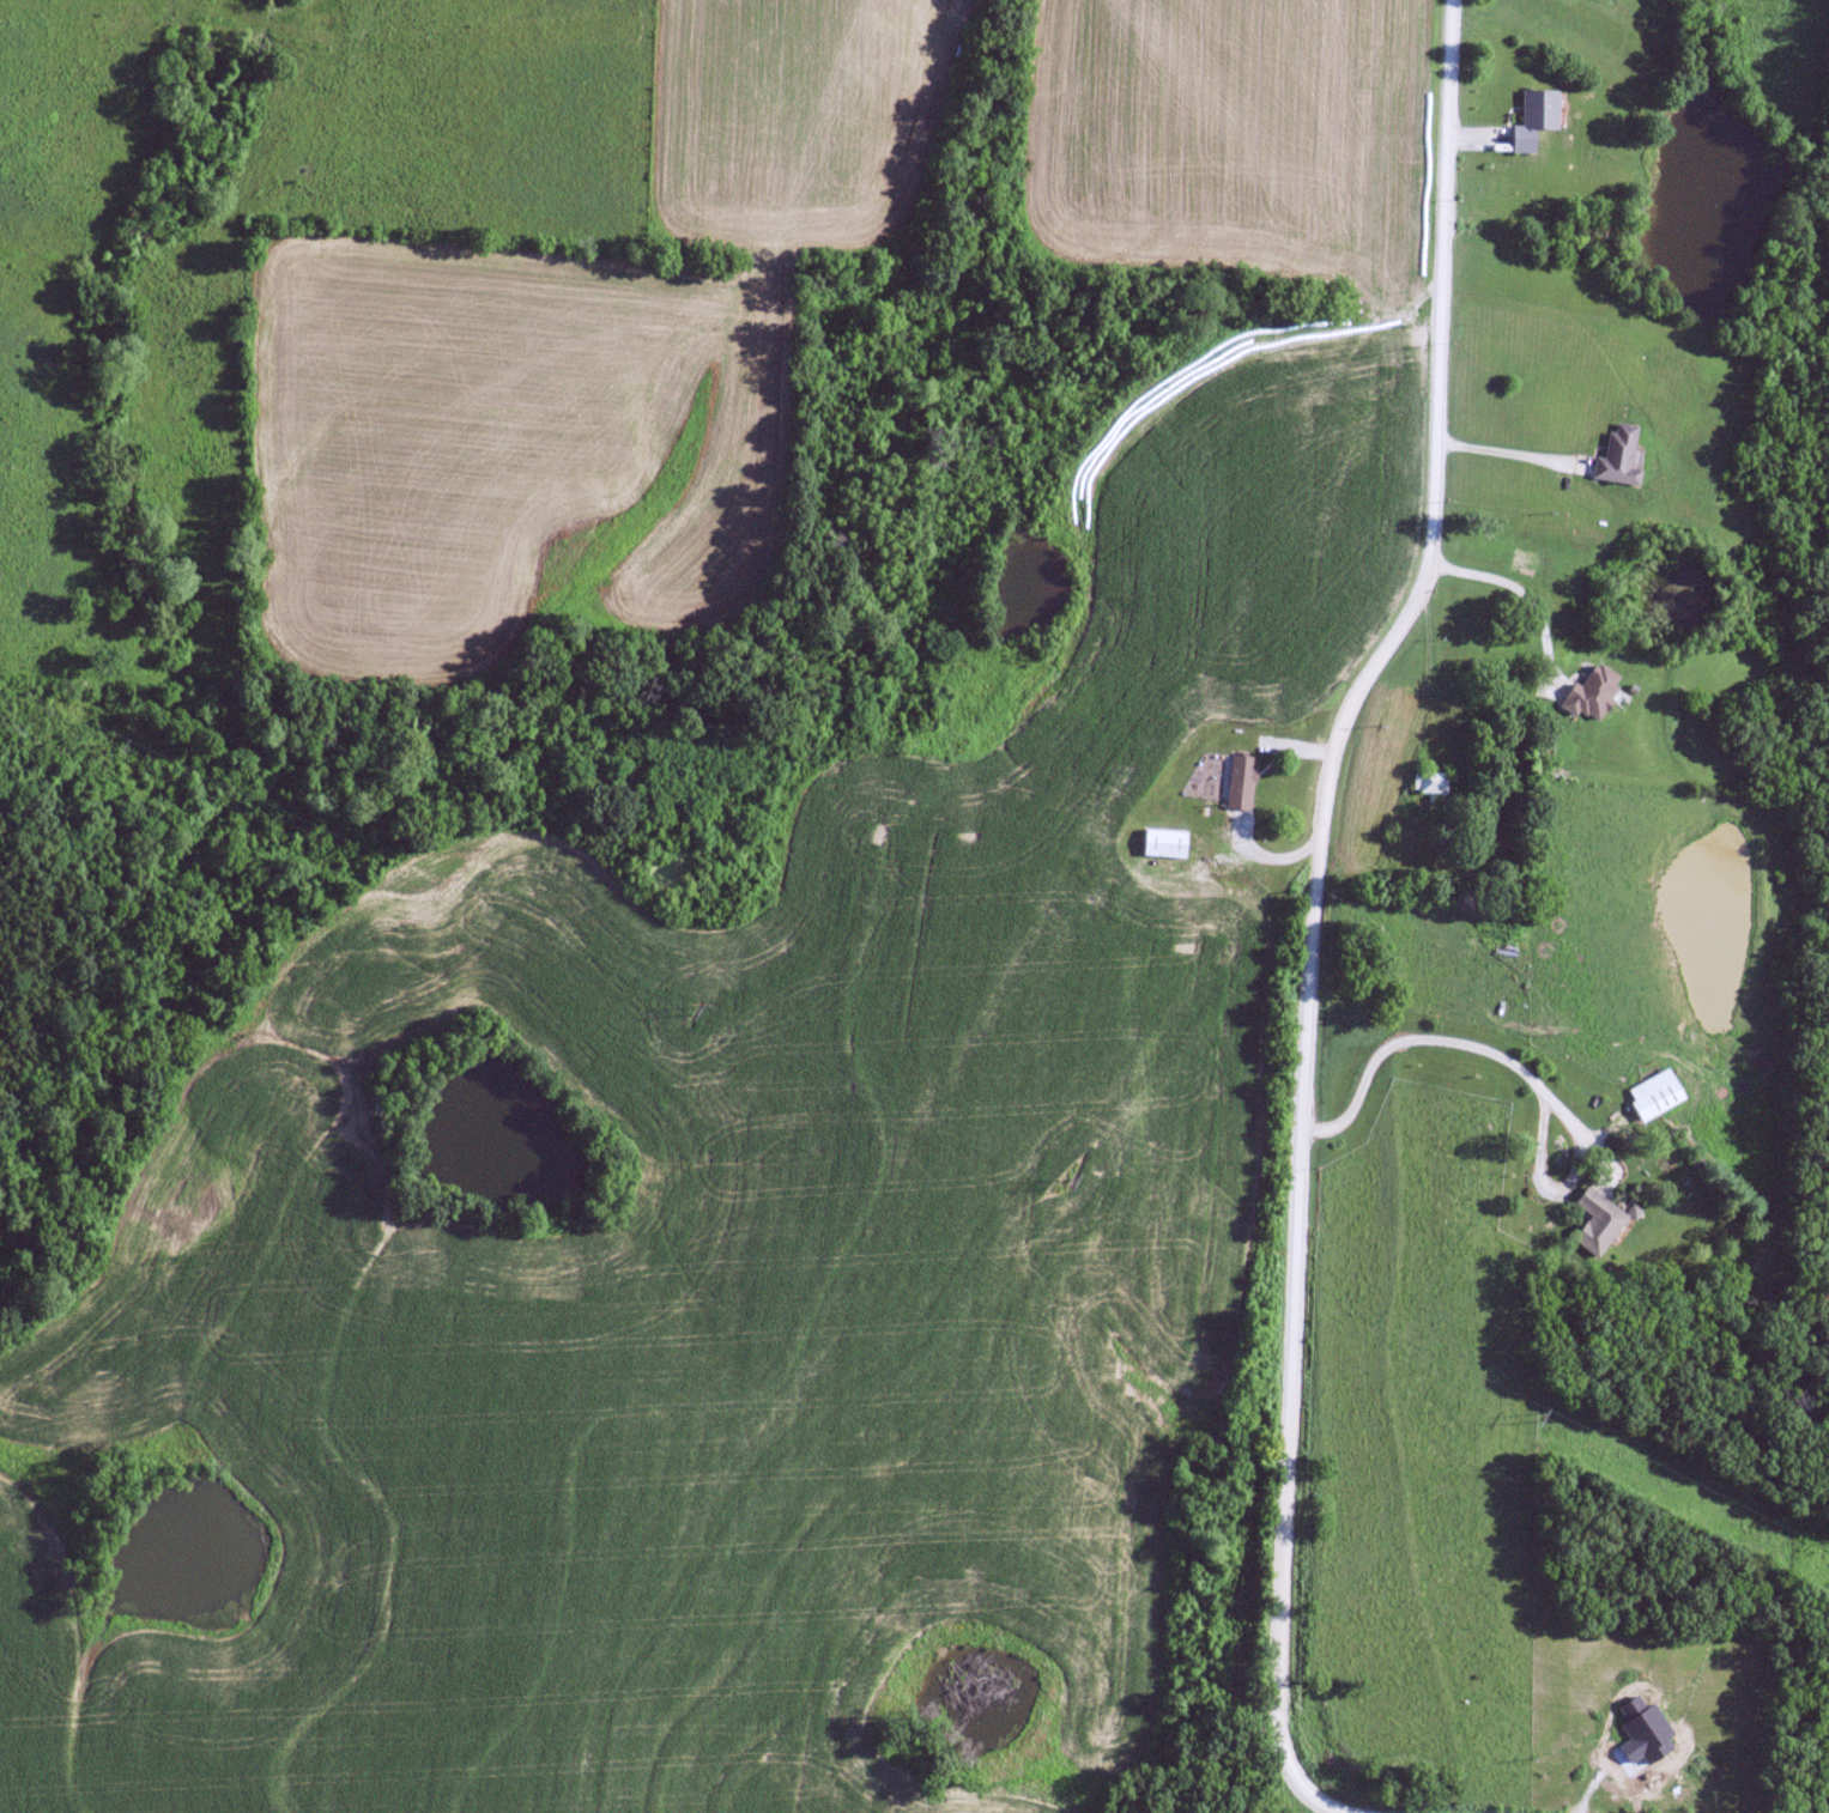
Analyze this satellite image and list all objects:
building: (1531, 117)
building: (1616, 456)
building: (1589, 692)
building: (1237, 782)
building: (1427, 782)
building: (1162, 843)
road: (1303, 970)
road: (1509, 1057)
building: (1652, 1095)
building: (1594, 1221)

